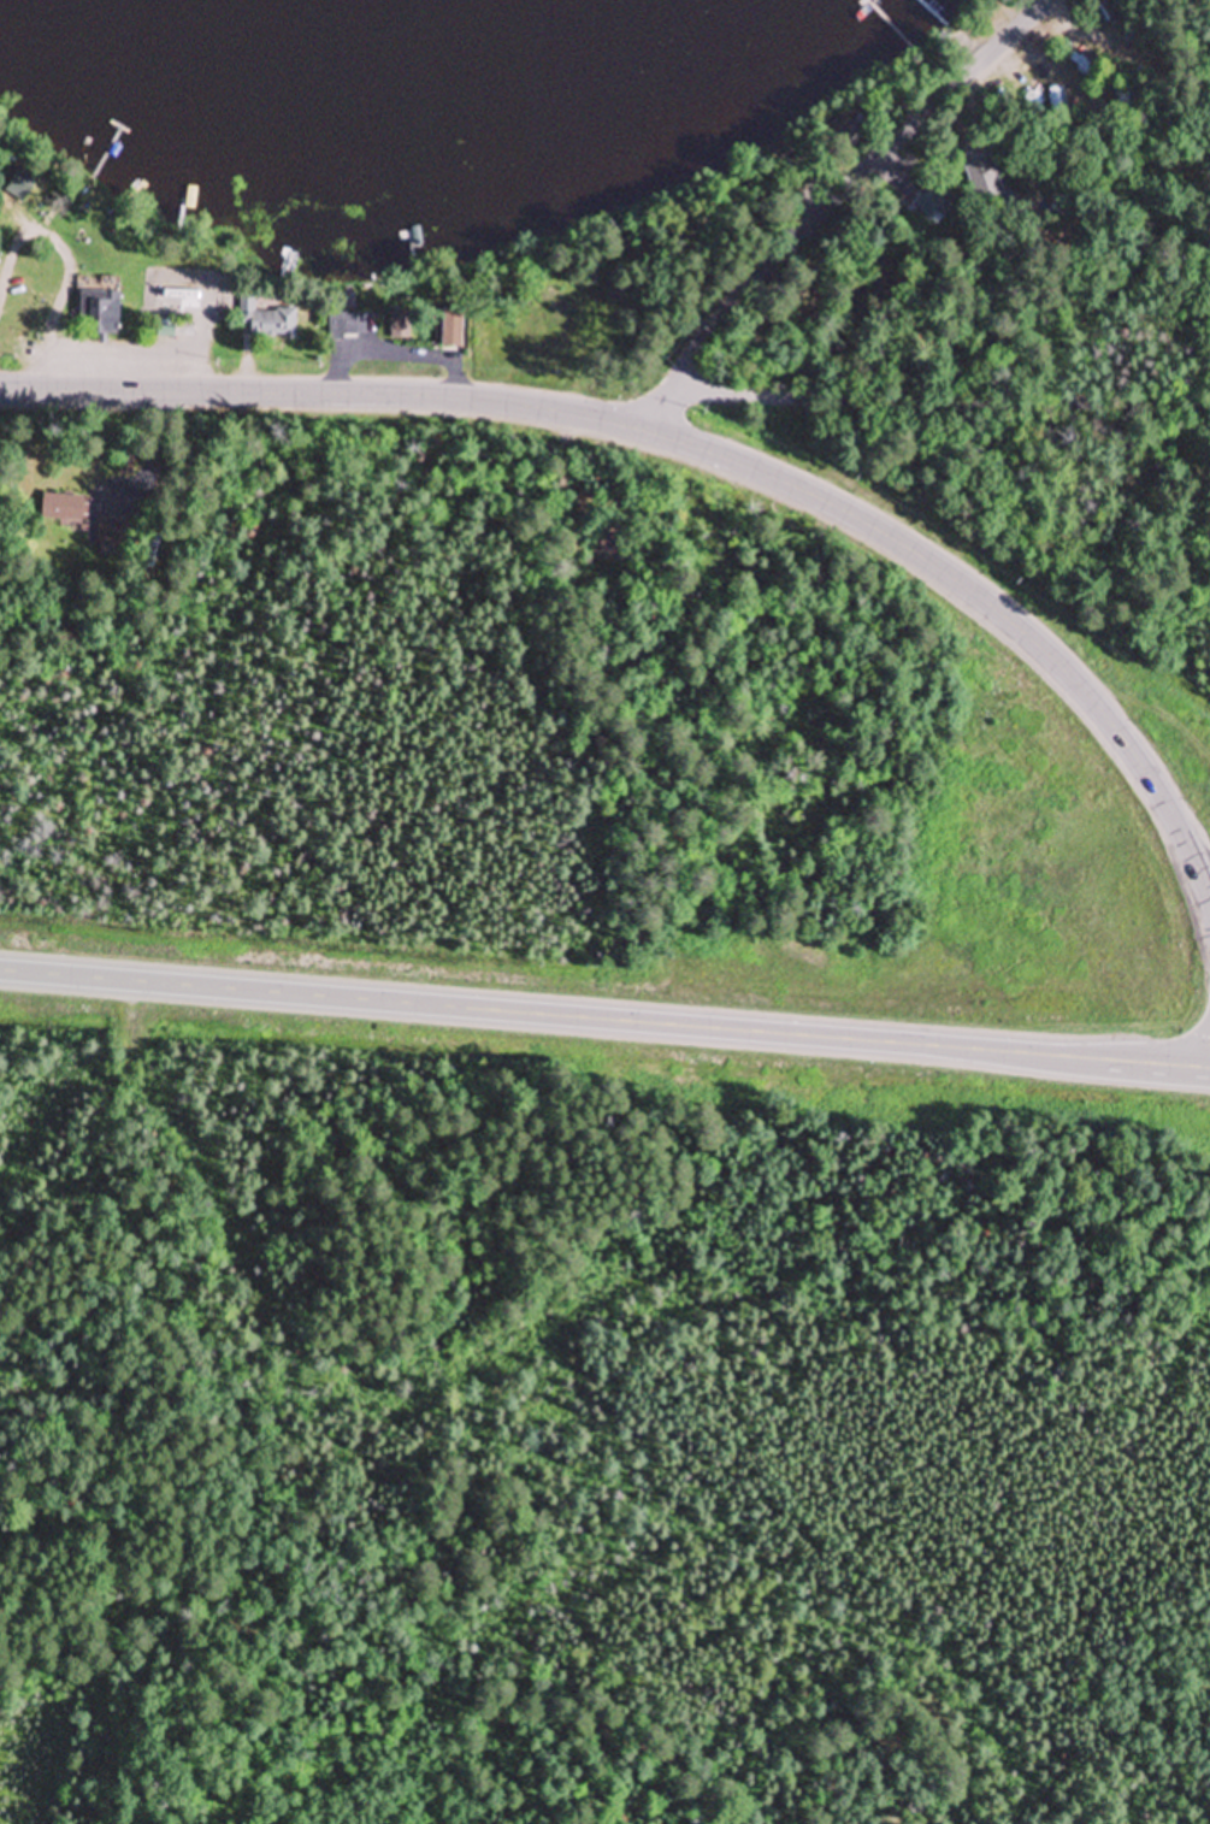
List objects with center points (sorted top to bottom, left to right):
building: (846, 131)
building: (22, 185)
road: (828, 203)
building: (935, 205)
building: (134, 284)
building: (542, 313)
building: (100, 314)
building: (344, 319)
building: (267, 321)
building: (401, 325)
building: (453, 329)
road: (942, 400)
road: (697, 448)
building: (64, 509)
building: (110, 539)
building: (608, 544)
road: (604, 1020)

